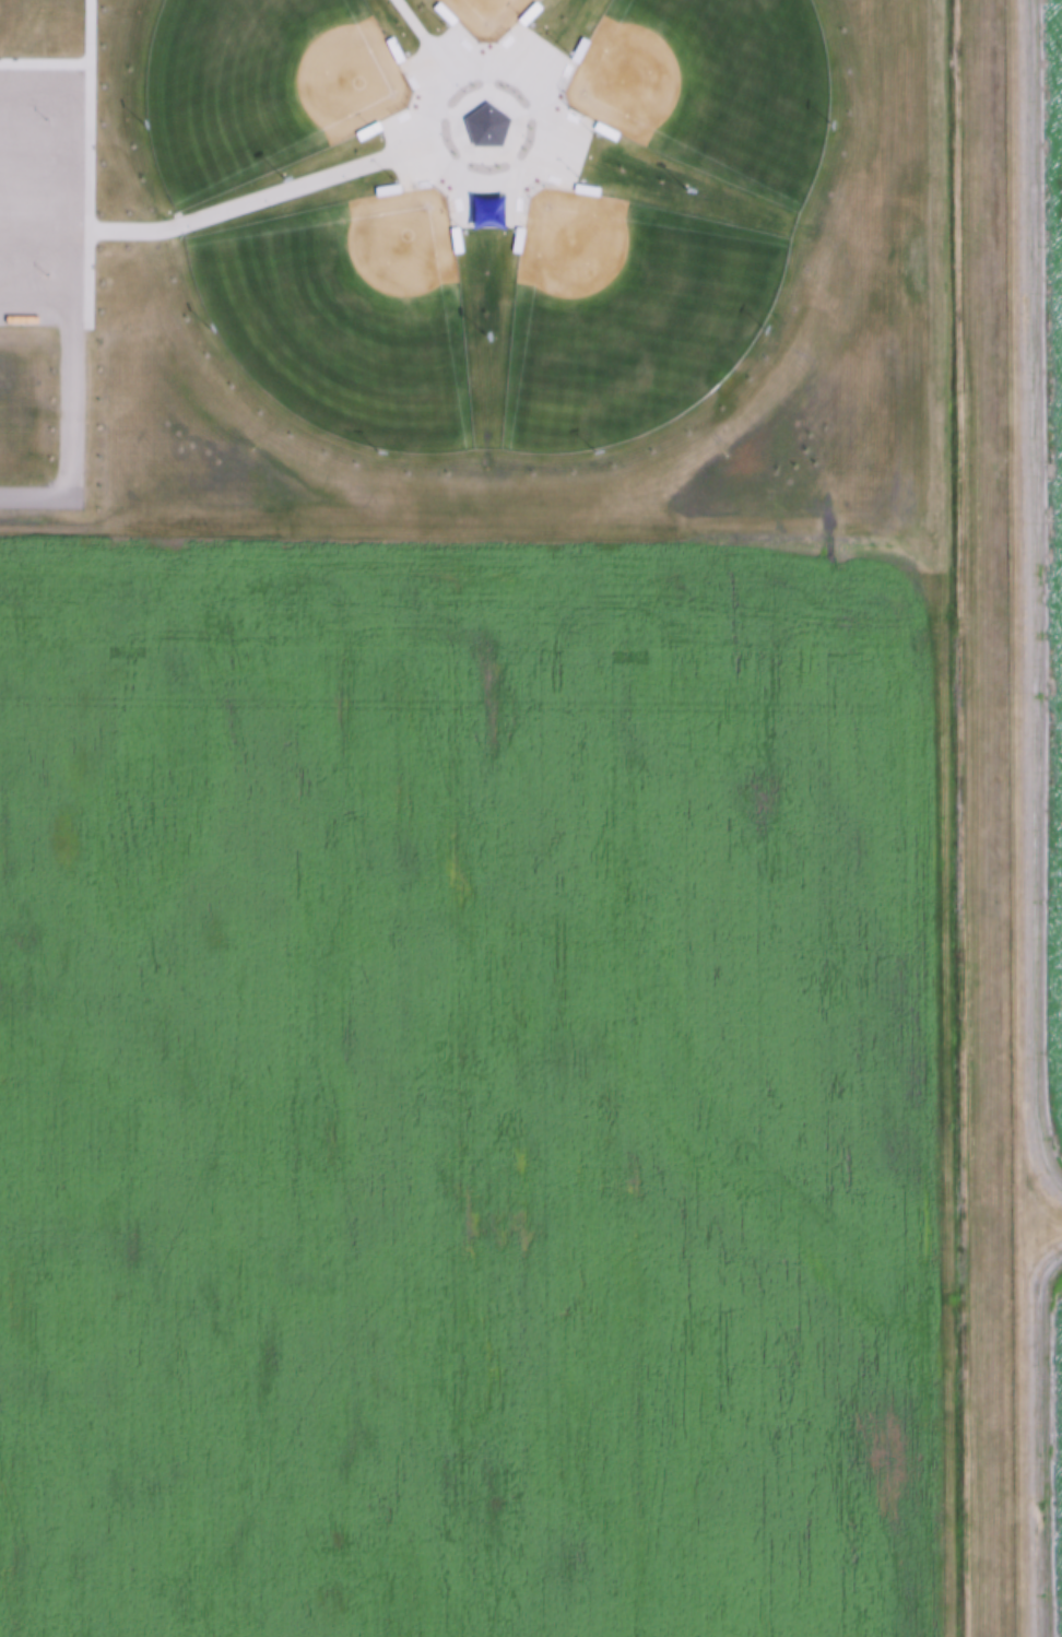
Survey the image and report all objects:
park: (488, 13)
road: (416, 28)
road: (90, 32)
park: (262, 84)
park: (710, 84)
road: (35, 94)
road: (35, 148)
road: (87, 155)
road: (533, 181)
road: (35, 196)
parking lot: (40, 197)
road: (259, 200)
road: (34, 250)
road: (69, 295)
road: (34, 298)
park: (347, 317)
park: (622, 317)
road: (34, 495)
wastewater plant: (1035, 792)
crop: (469, 820)

